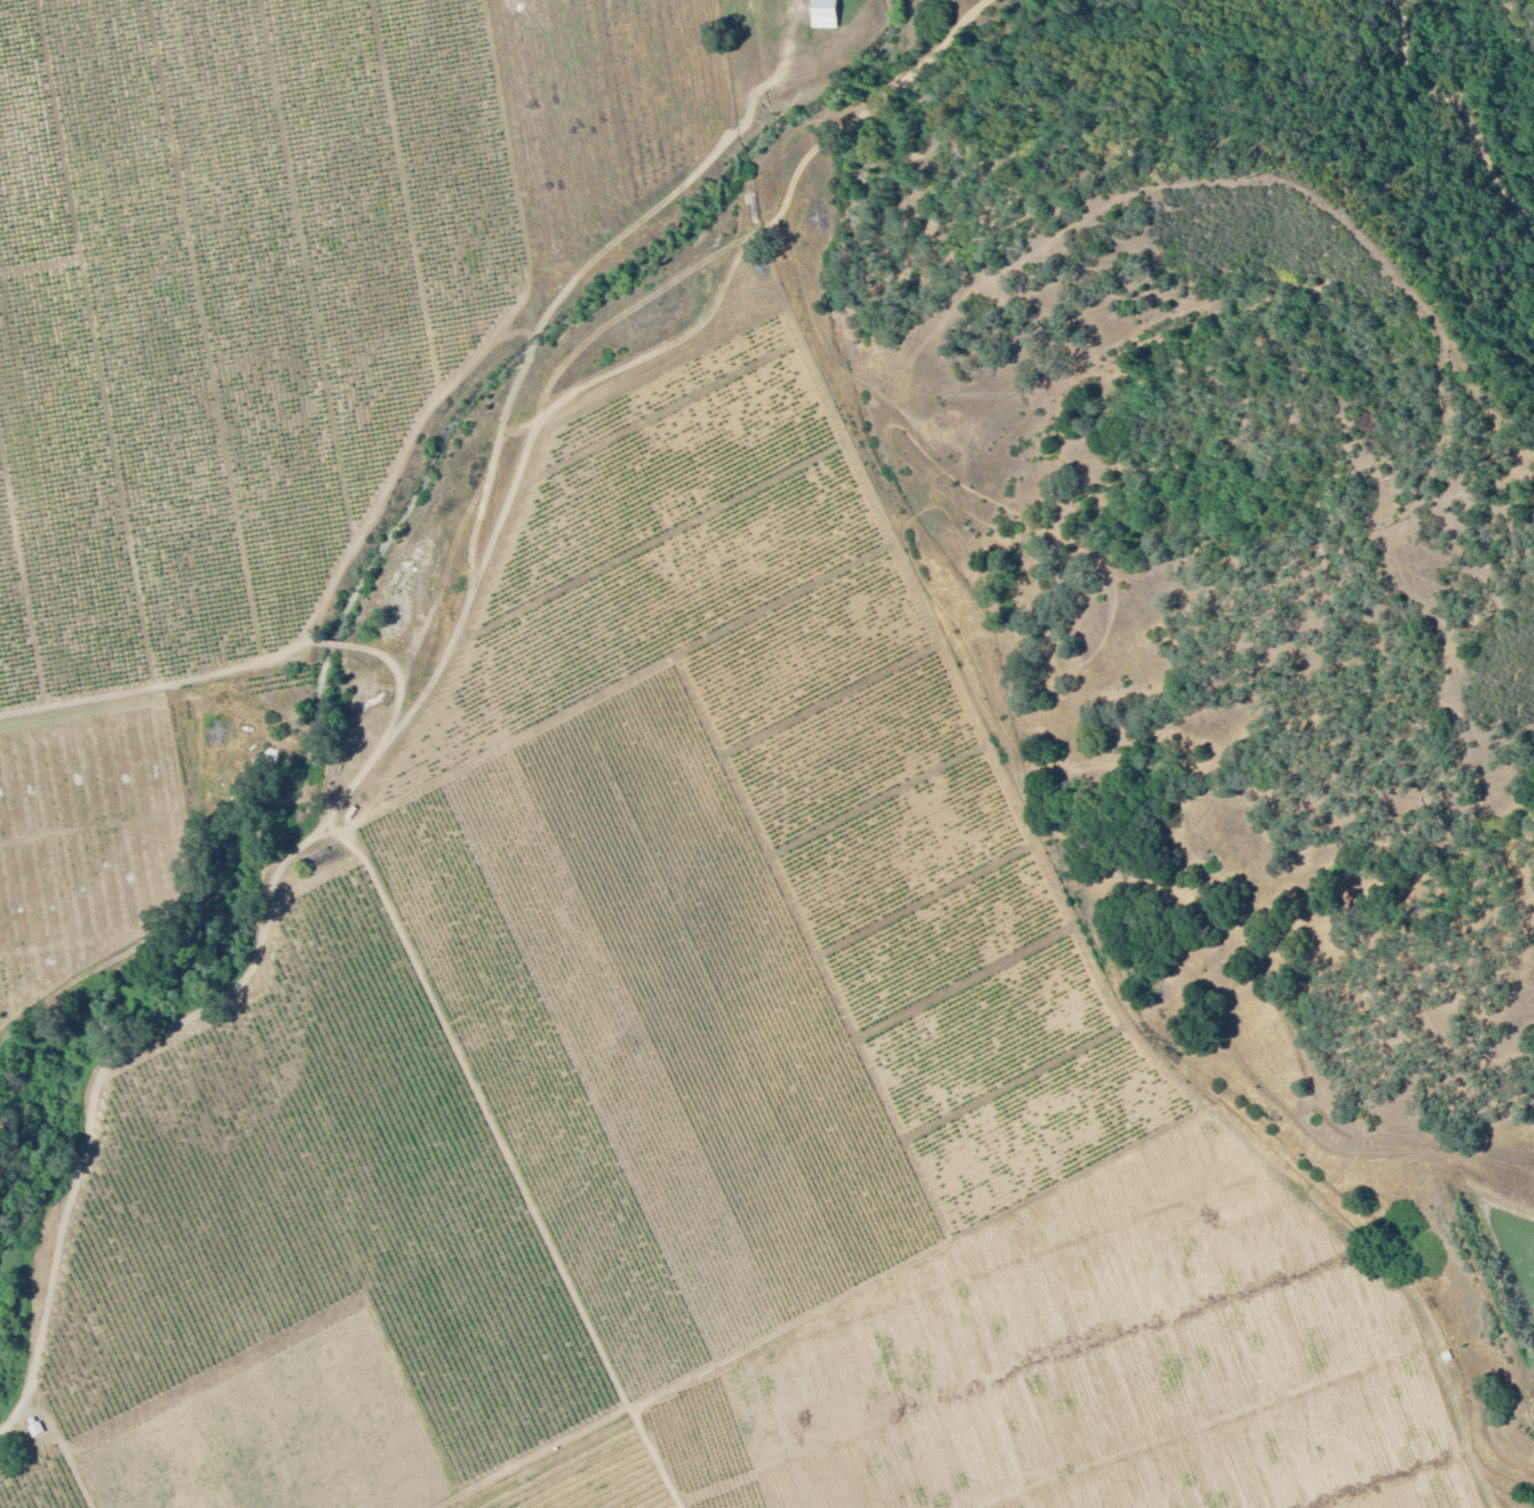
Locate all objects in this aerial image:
building: (825, 15)
road: (434, 684)
building: (35, 1428)

